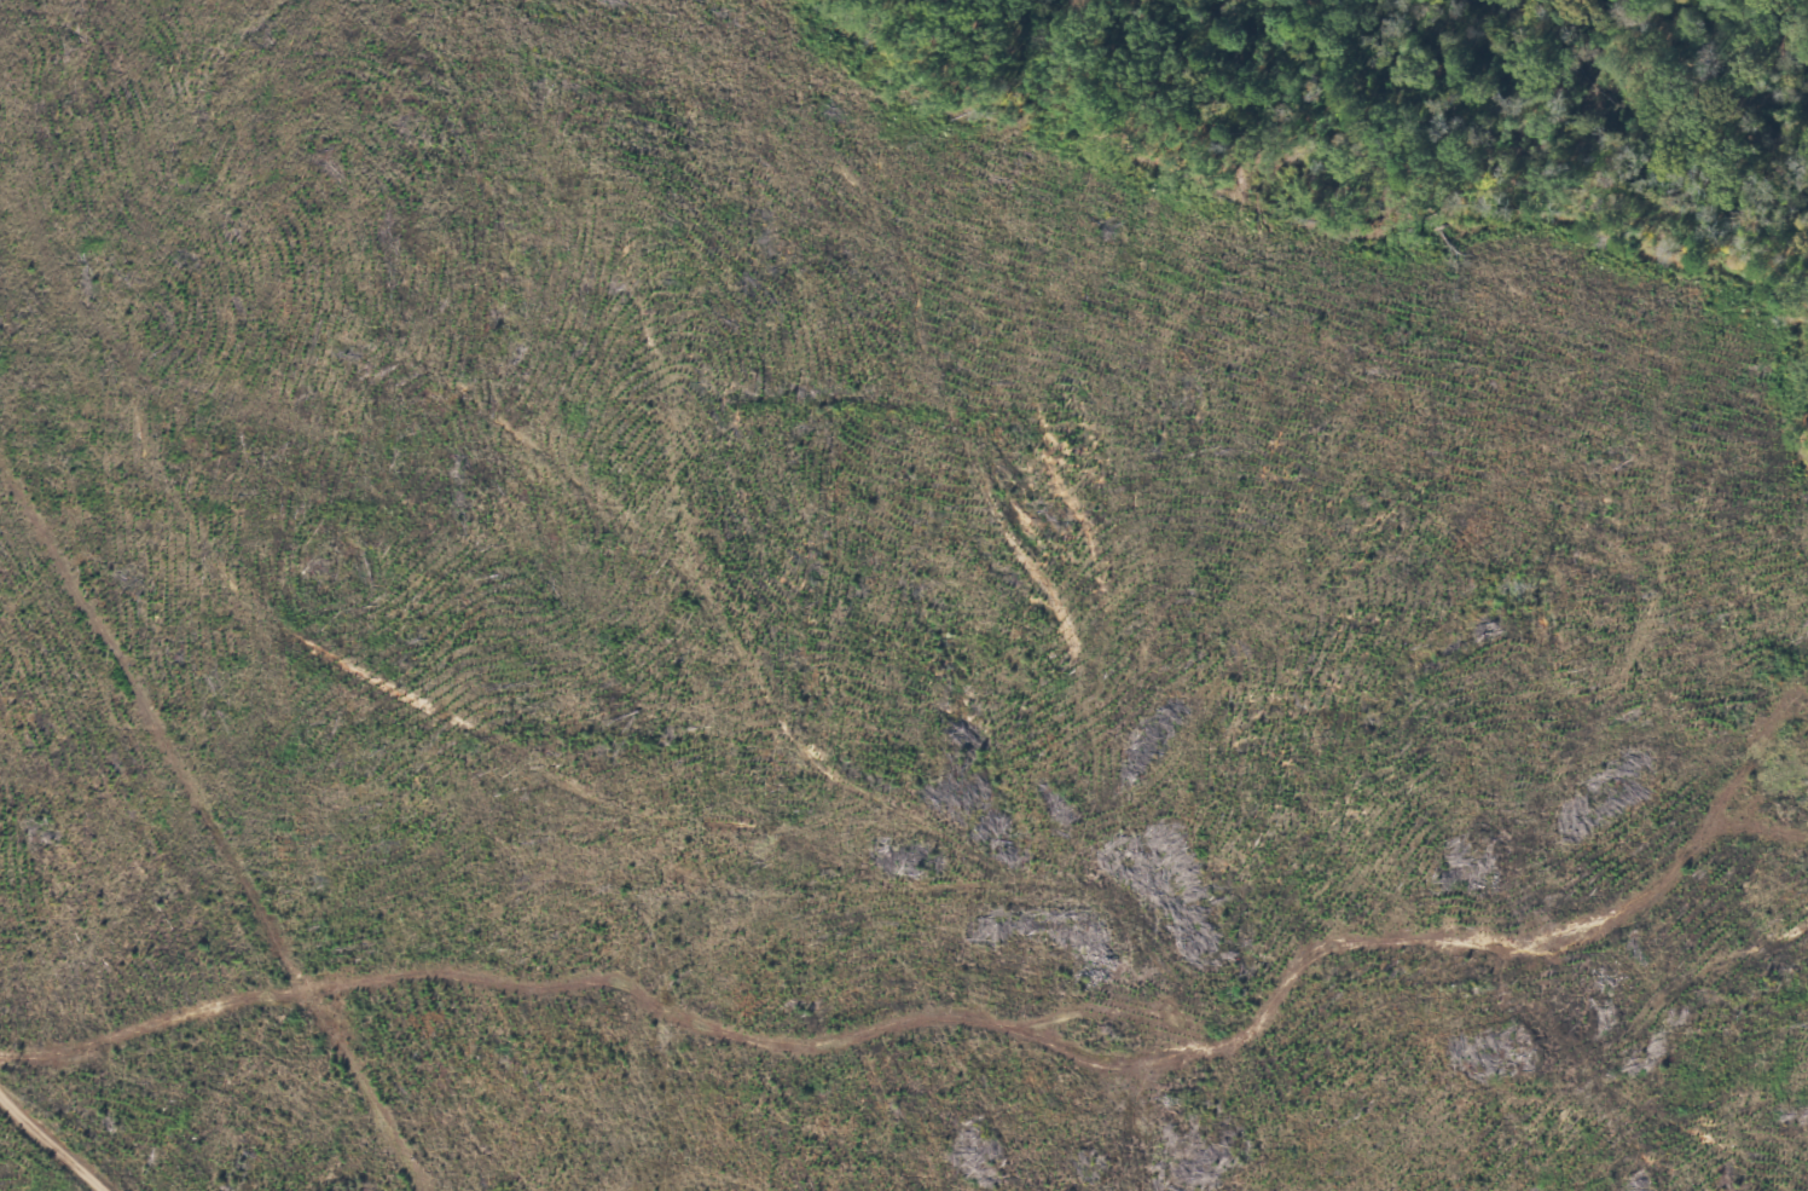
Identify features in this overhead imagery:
road: (52, 1139)

